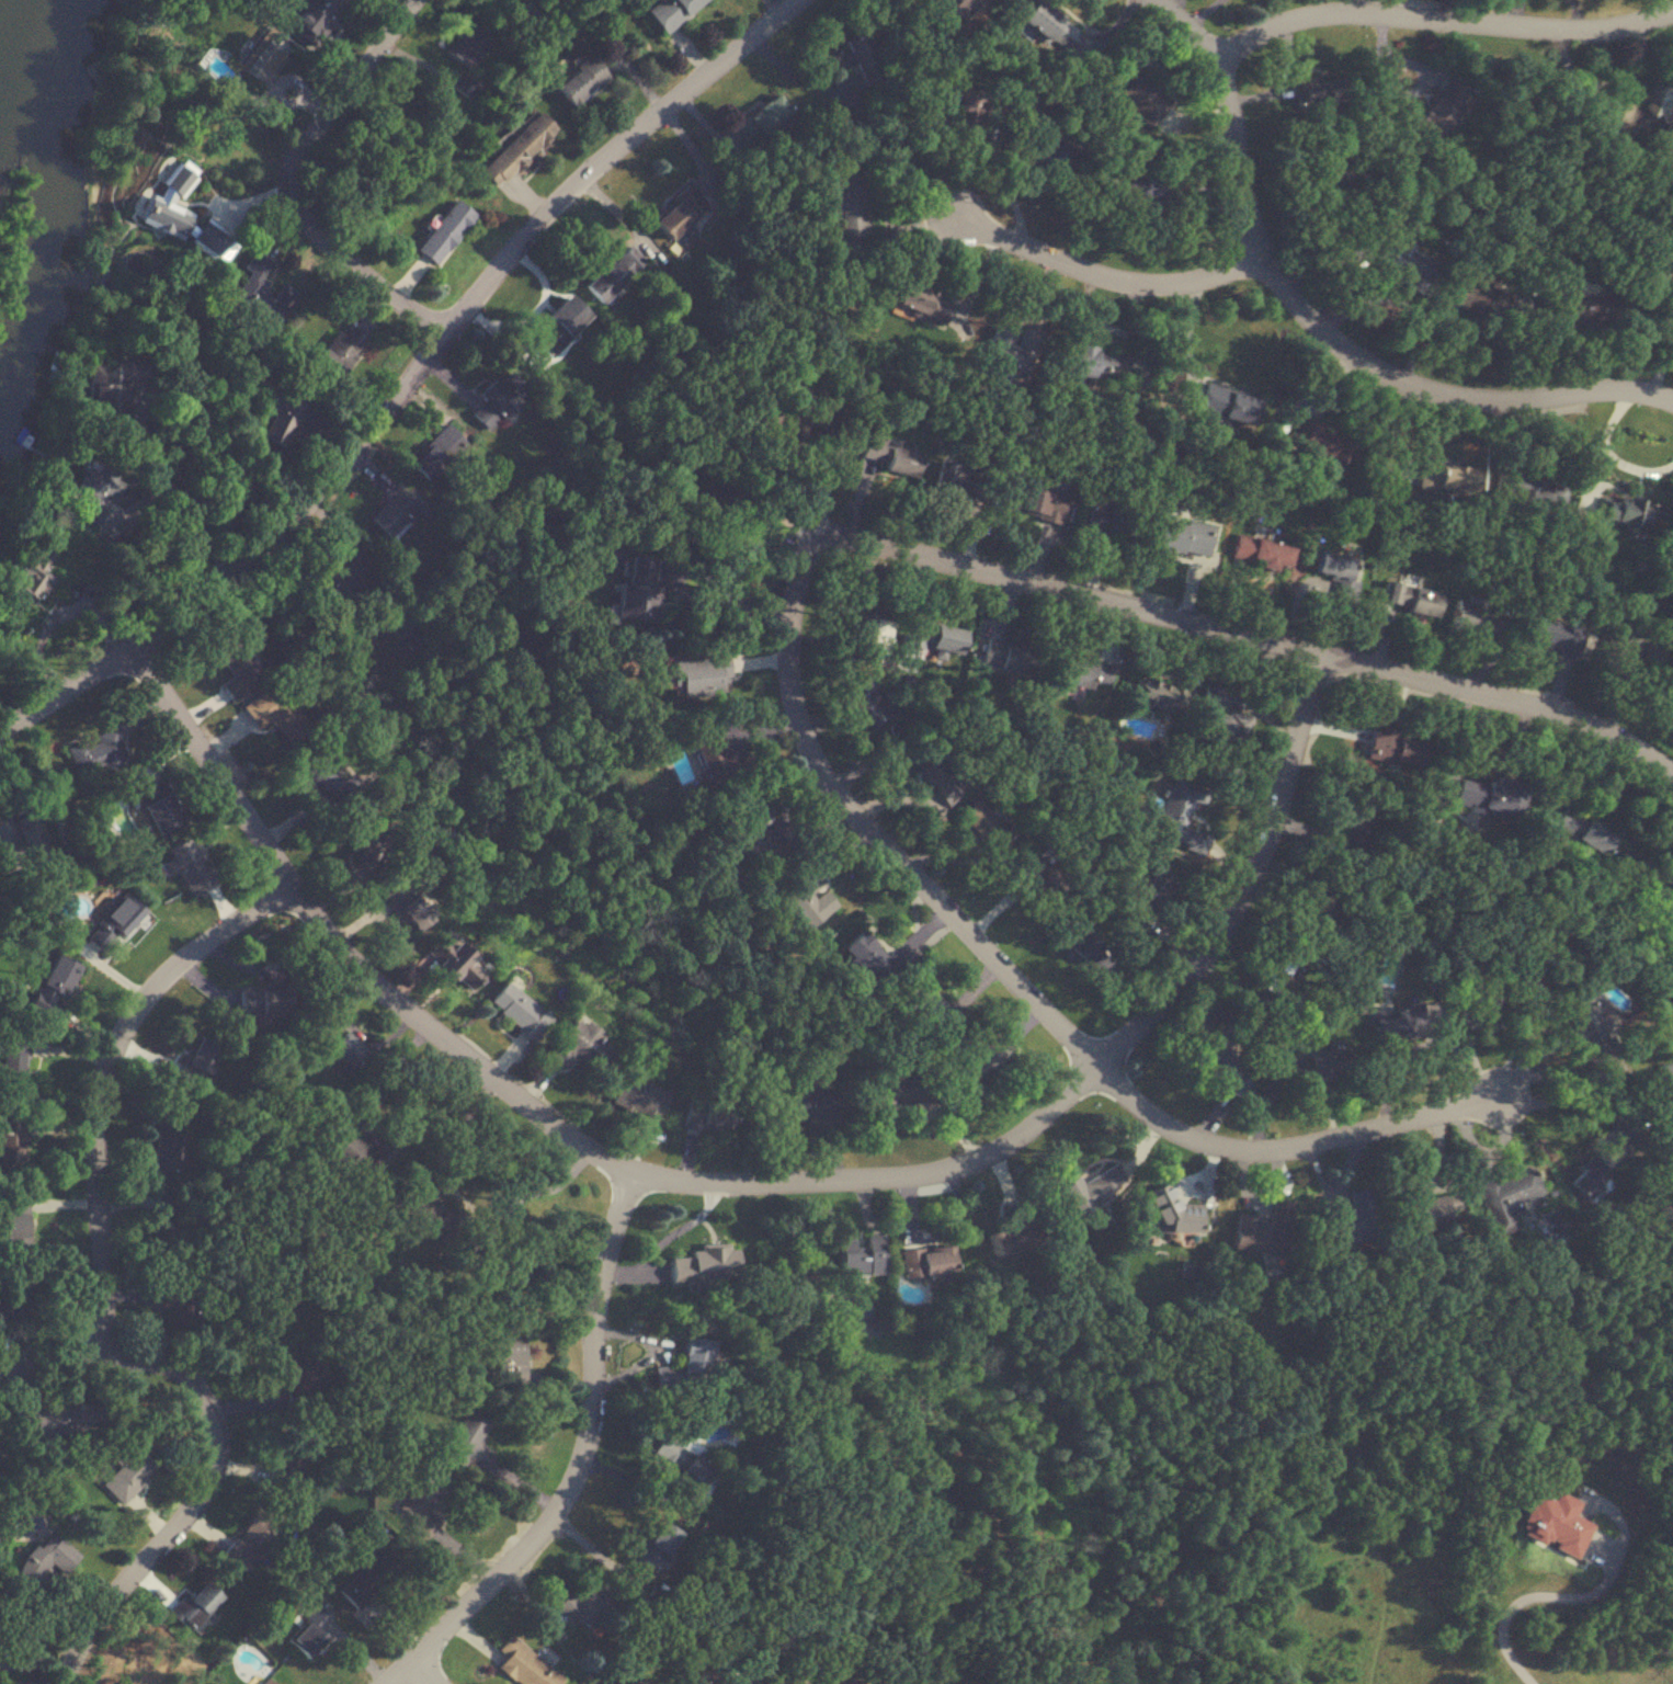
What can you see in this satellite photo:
building: (955, 7)
building: (670, 12)
road: (1198, 13)
building: (311, 18)
road: (1442, 18)
building: (1047, 27)
building: (466, 39)
river: (24, 41)
building: (855, 58)
building: (265, 62)
road: (797, 79)
building: (578, 81)
building: (466, 87)
building: (1318, 92)
building: (953, 96)
building: (1137, 98)
building: (1657, 103)
building: (1441, 109)
building: (1615, 117)
building: (762, 120)
building: (515, 150)
road: (615, 162)
building: (1063, 167)
road: (284, 183)
building: (1134, 187)
road: (254, 195)
building: (846, 196)
building: (172, 209)
building: (681, 214)
building: (442, 234)
road: (1091, 266)
building: (613, 274)
building: (1415, 280)
building: (260, 292)
building: (1476, 299)
building: (921, 303)
road: (1320, 321)
building: (557, 326)
building: (338, 354)
building: (1091, 363)
building: (107, 388)
building: (496, 402)
building: (1227, 406)
building: (275, 421)
building: (817, 422)
building: (1319, 442)
building: (889, 458)
building: (426, 464)
building: (1446, 477)
building: (960, 481)
building: (95, 489)
building: (1529, 491)
road: (174, 498)
building: (1038, 504)
building: (703, 510)
building: (1626, 512)
building: (394, 513)
building: (1101, 516)
building: (1184, 537)
building: (1260, 553)
road: (246, 564)
building: (1332, 567)
building: (27, 578)
building: (335, 578)
building: (636, 591)
building: (1395, 594)
road: (691, 596)
building: (1422, 602)
building: (1475, 622)
building: (857, 627)
building: (1555, 636)
building: (410, 637)
building: (934, 638)
road: (1257, 638)
building: (1624, 642)
building: (1006, 655)
building: (236, 670)
building: (1086, 672)
building: (697, 674)
building: (1154, 692)
building: (867, 707)
building: (1221, 716)
building: (1396, 747)
building: (303, 751)
building: (94, 752)
building: (718, 758)
building: (935, 773)
building: (1490, 795)
building: (158, 804)
building: (1181, 815)
building: (1355, 817)
building: (985, 827)
building: (754, 831)
building: (1581, 831)
building: (24, 844)
building: (187, 863)
building: (388, 879)
building: (1039, 881)
building: (1649, 887)
building: (1147, 894)
building: (807, 898)
building: (112, 923)
building: (1082, 947)
building: (457, 960)
building: (870, 960)
building: (1285, 969)
road: (1016, 980)
building: (53, 987)
building: (264, 1000)
building: (1486, 1003)
building: (516, 1011)
building: (929, 1015)
building: (1397, 1025)
building: (1590, 1029)
building: (335, 1043)
building: (576, 1046)
building: (1214, 1056)
building: (980, 1062)
building: (1317, 1066)
road: (390, 1071)
road: (110, 1082)
building: (898, 1091)
building: (636, 1096)
road: (1574, 1097)
building: (815, 1105)
building: (706, 1116)
road: (460, 1125)
building: (12, 1142)
building: (167, 1143)
building: (361, 1159)
building: (1600, 1167)
road: (753, 1179)
building: (1090, 1191)
road: (530, 1192)
building: (1504, 1199)
building: (1421, 1206)
building: (1173, 1213)
building: (1352, 1220)
building: (1013, 1230)
building: (1266, 1230)
building: (13, 1231)
building: (167, 1236)
building: (861, 1256)
building: (929, 1261)
building: (703, 1265)
building: (167, 1294)
building: (7, 1311)
building: (507, 1355)
building: (687, 1364)
building: (298, 1374)
building: (57, 1420)
building: (467, 1441)
road: (216, 1455)
road: (581, 1460)
building: (285, 1463)
building: (685, 1469)
building: (126, 1473)
building: (421, 1501)
building: (250, 1540)
building: (656, 1544)
building: (44, 1560)
building: (368, 1580)
road: (1526, 1596)
building: (195, 1604)
building: (584, 1605)
building: (308, 1632)
building: (524, 1664)
road: (422, 1673)
building: (722, 1675)
building: (831, 1677)
building: (263, 1681)
building: (629, 1682)
building: (931, 1683)

